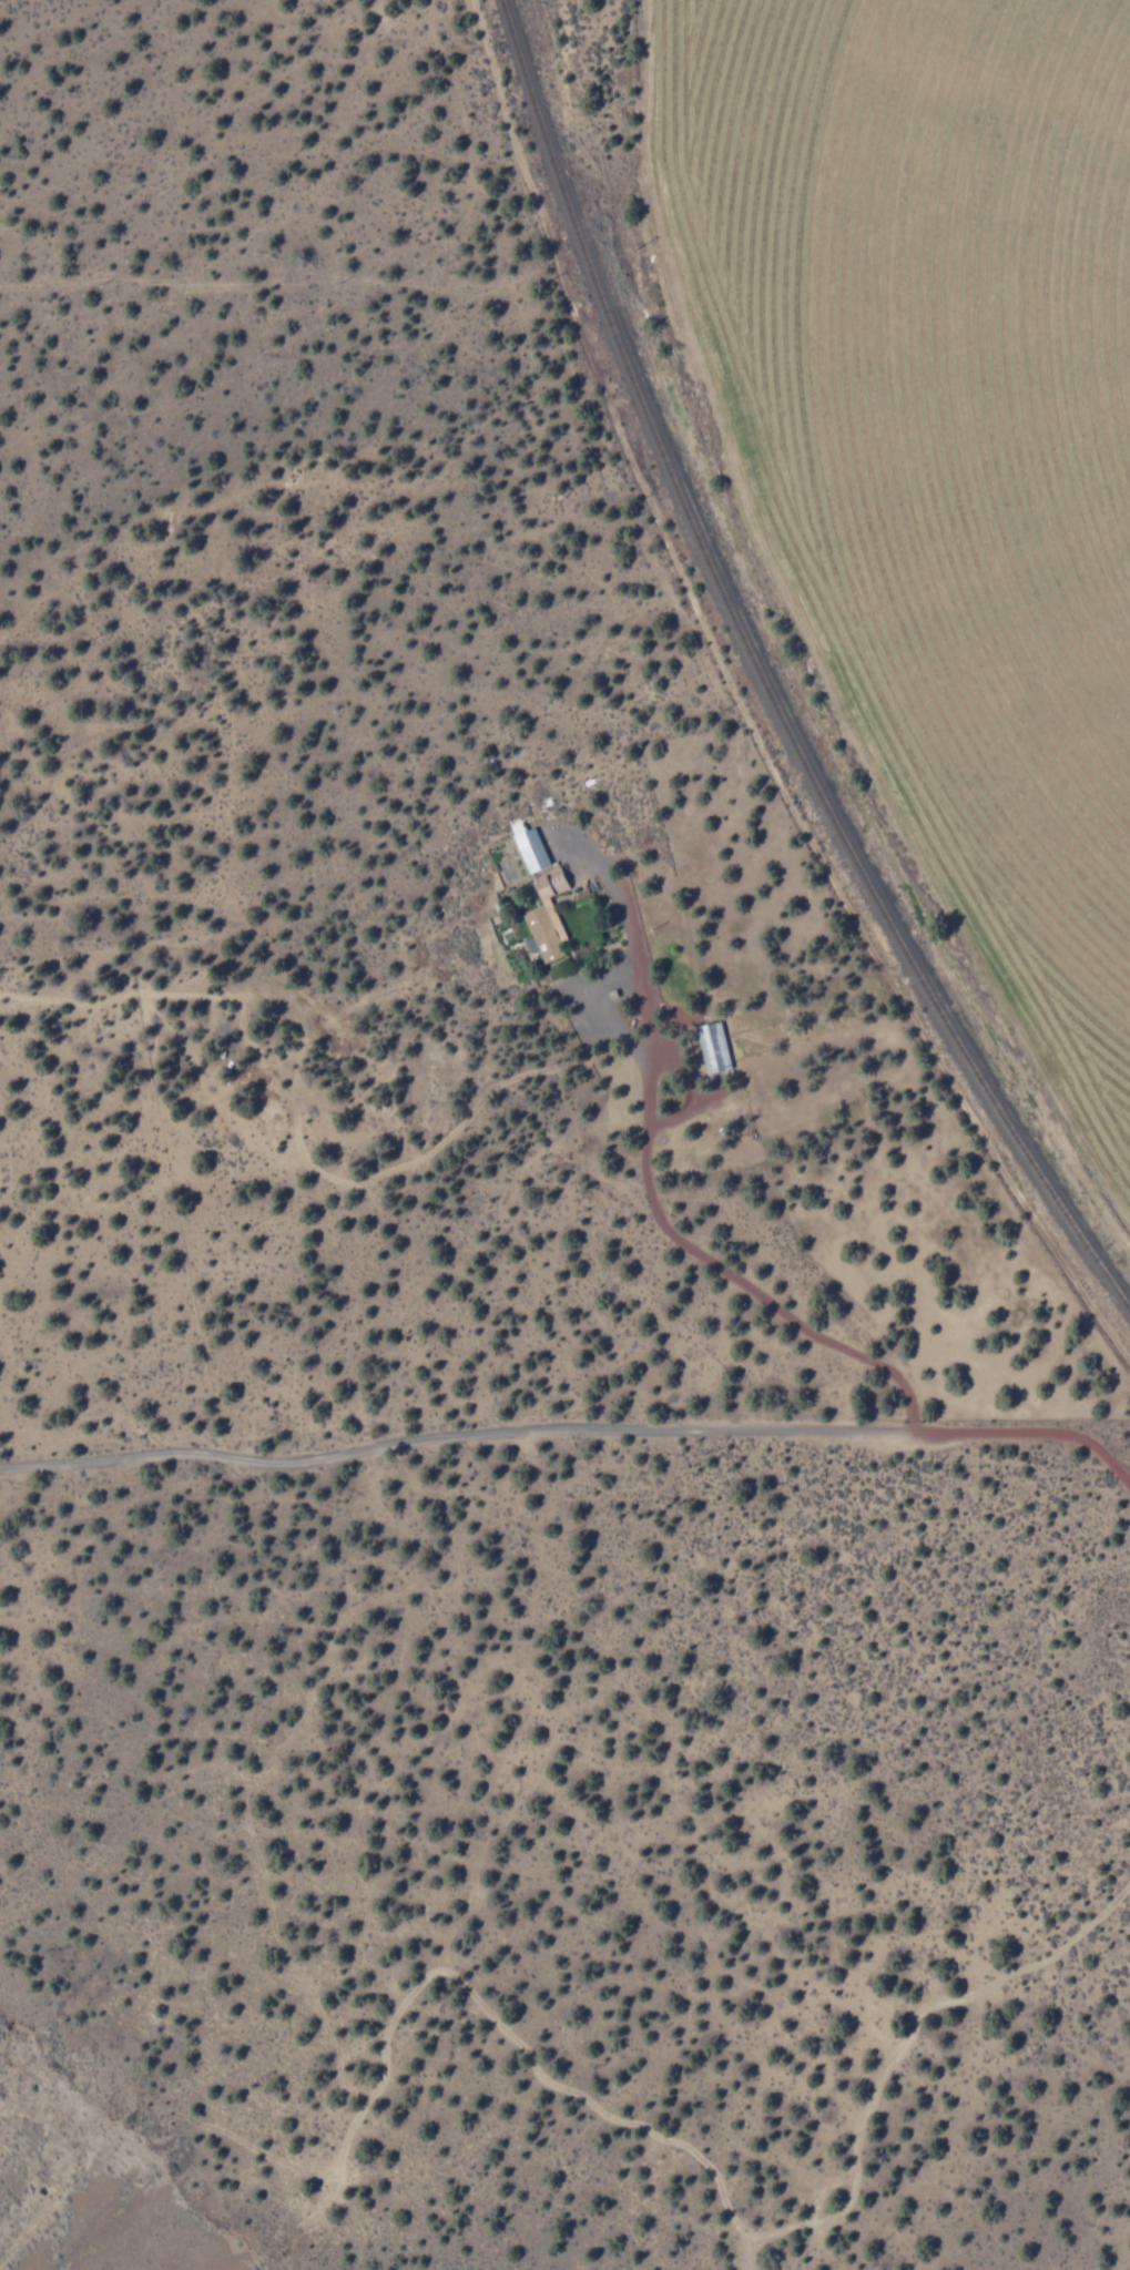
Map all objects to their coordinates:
crop: (945, 437)
railway: (770, 682)
building: (528, 848)
building: (543, 917)
building: (711, 1047)
road: (574, 1443)

